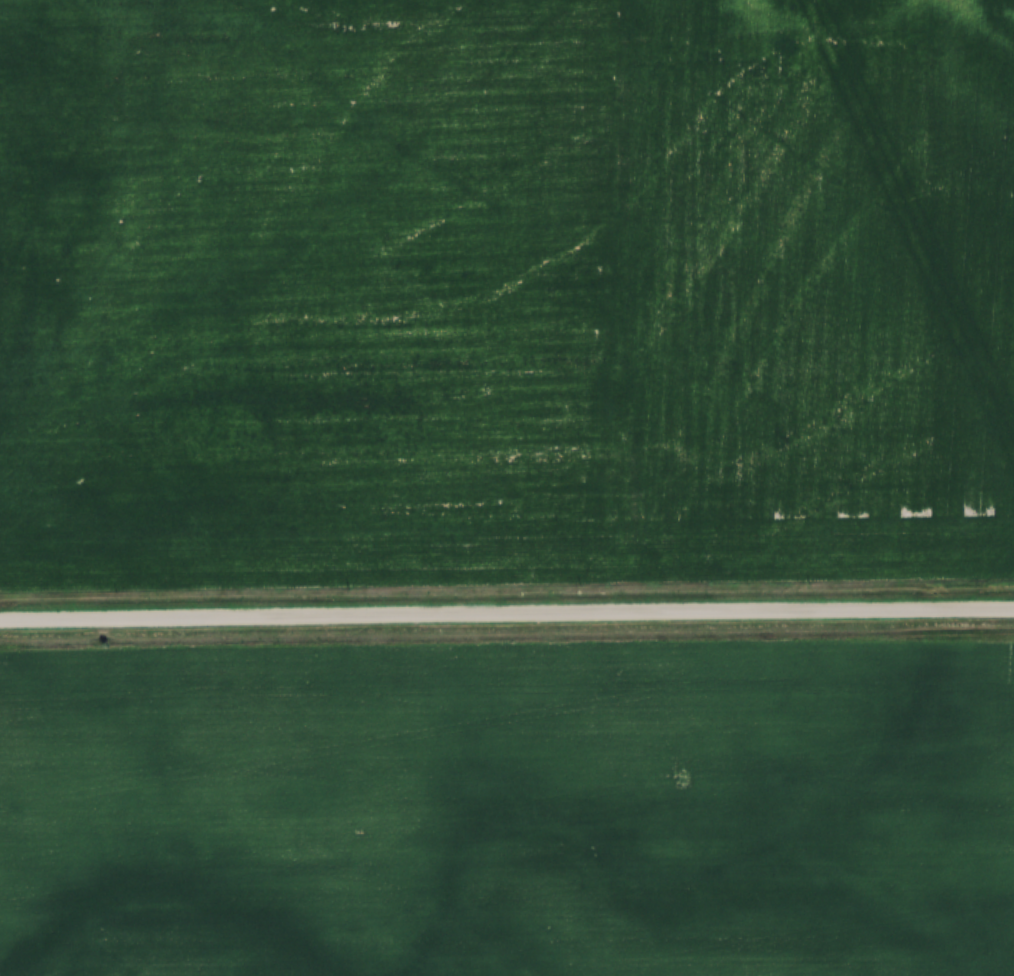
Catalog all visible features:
road: (507, 612)

